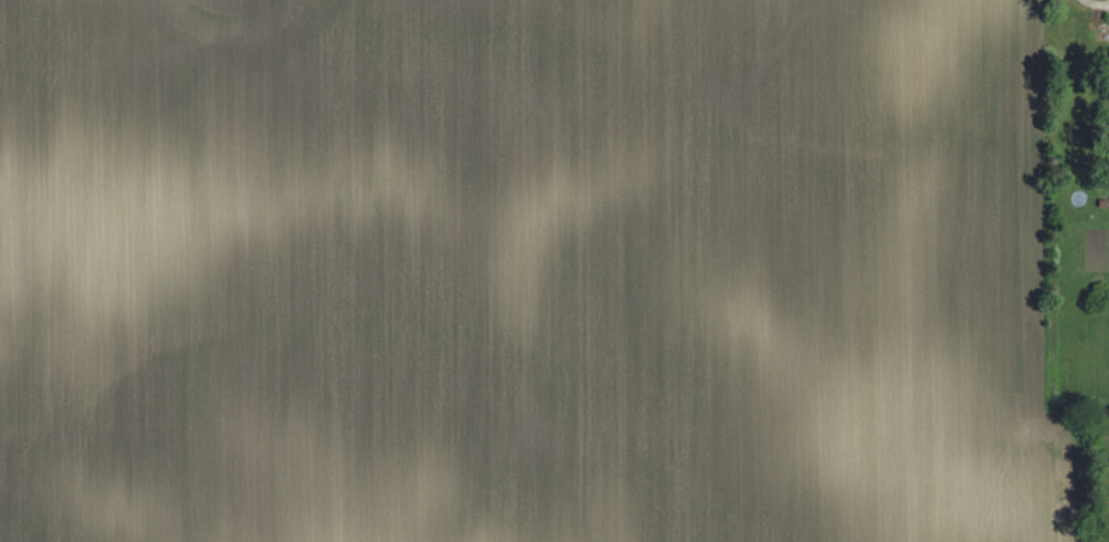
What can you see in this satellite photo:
road: (1097, 2)

